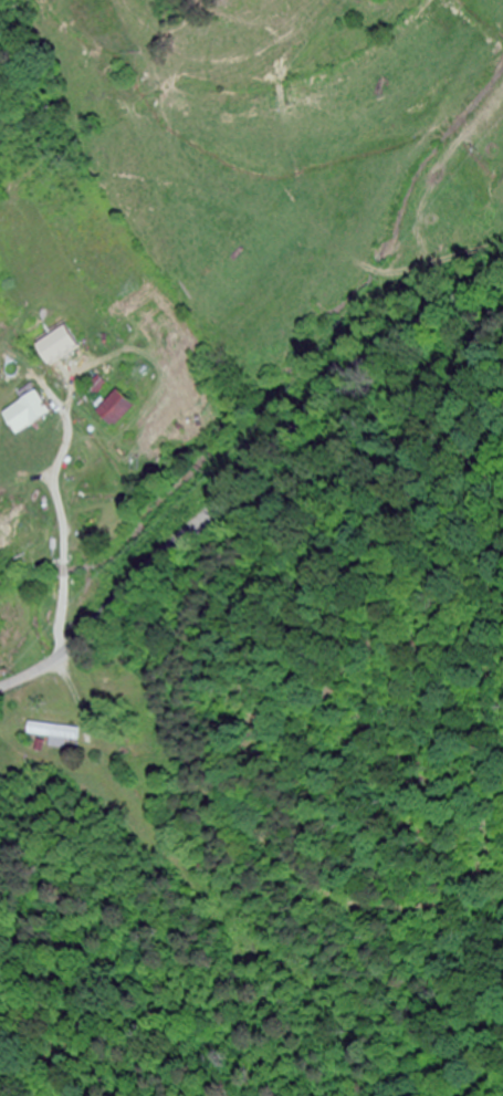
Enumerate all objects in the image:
building: (57, 344)
building: (114, 410)
building: (27, 415)
road: (245, 471)
building: (56, 733)
road: (344, 790)

